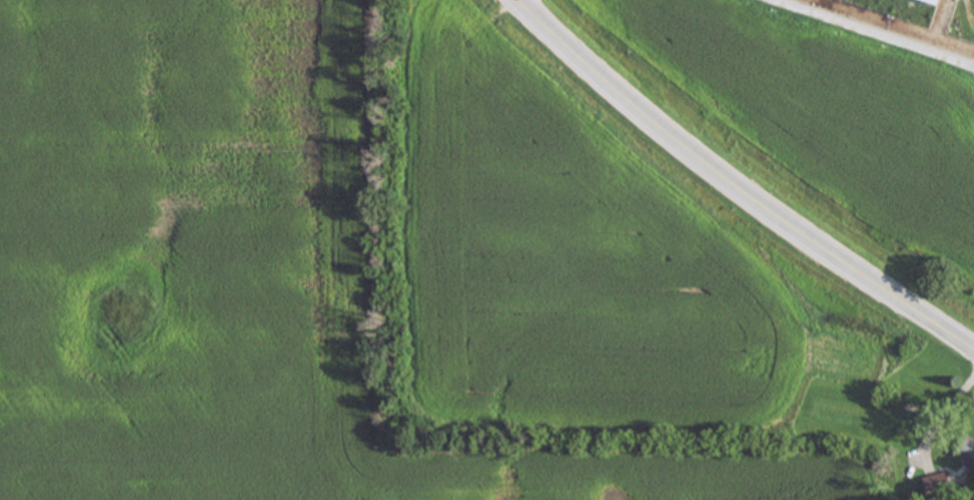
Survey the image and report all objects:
road: (515, 0)
building: (937, 2)
road: (871, 32)
road: (734, 187)
road: (939, 421)
building: (968, 455)

